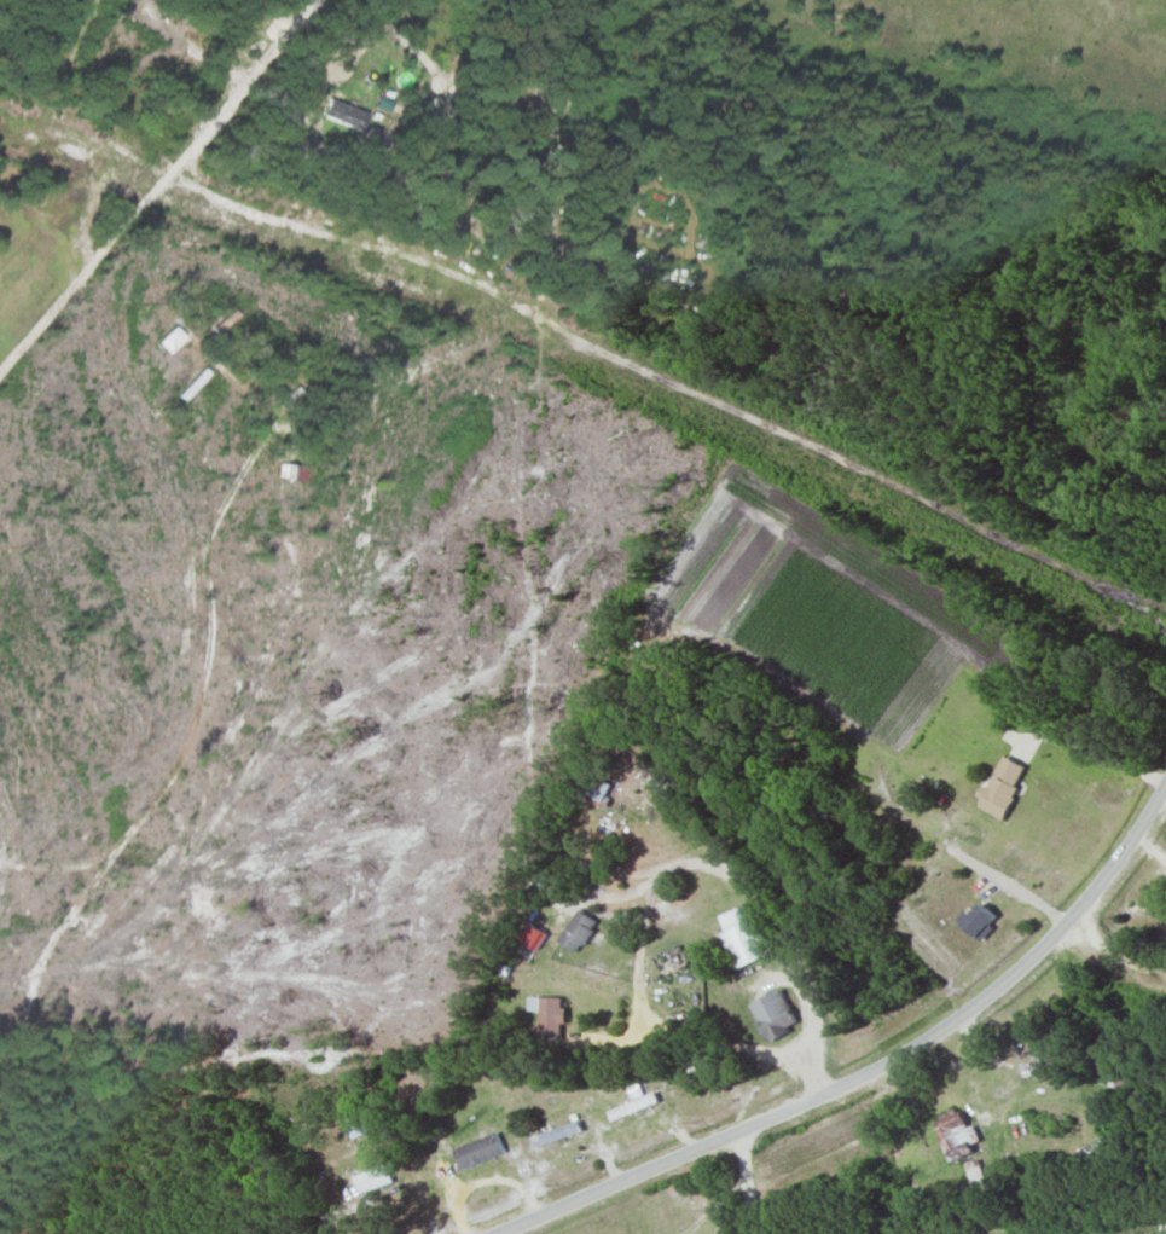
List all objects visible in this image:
building: (343, 115)
power tower: (135, 174)
road: (1159, 209)
road: (86, 271)
power tower: (498, 309)
building: (170, 341)
road: (668, 390)
power tower: (870, 486)
building: (1003, 787)
building: (913, 796)
road: (755, 909)
building: (979, 922)
building: (578, 933)
building: (743, 938)
building: (533, 939)
building: (547, 1014)
building: (773, 1015)
road: (872, 1066)
building: (633, 1107)
building: (957, 1132)
building: (477, 1152)
building: (974, 1174)
building: (372, 1180)
road: (744, 1181)

